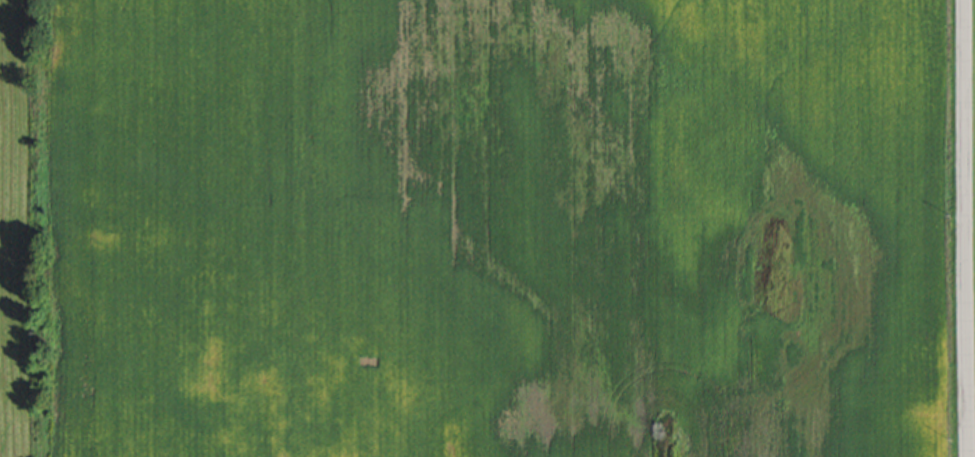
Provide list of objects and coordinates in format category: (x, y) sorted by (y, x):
road: (965, 228)

